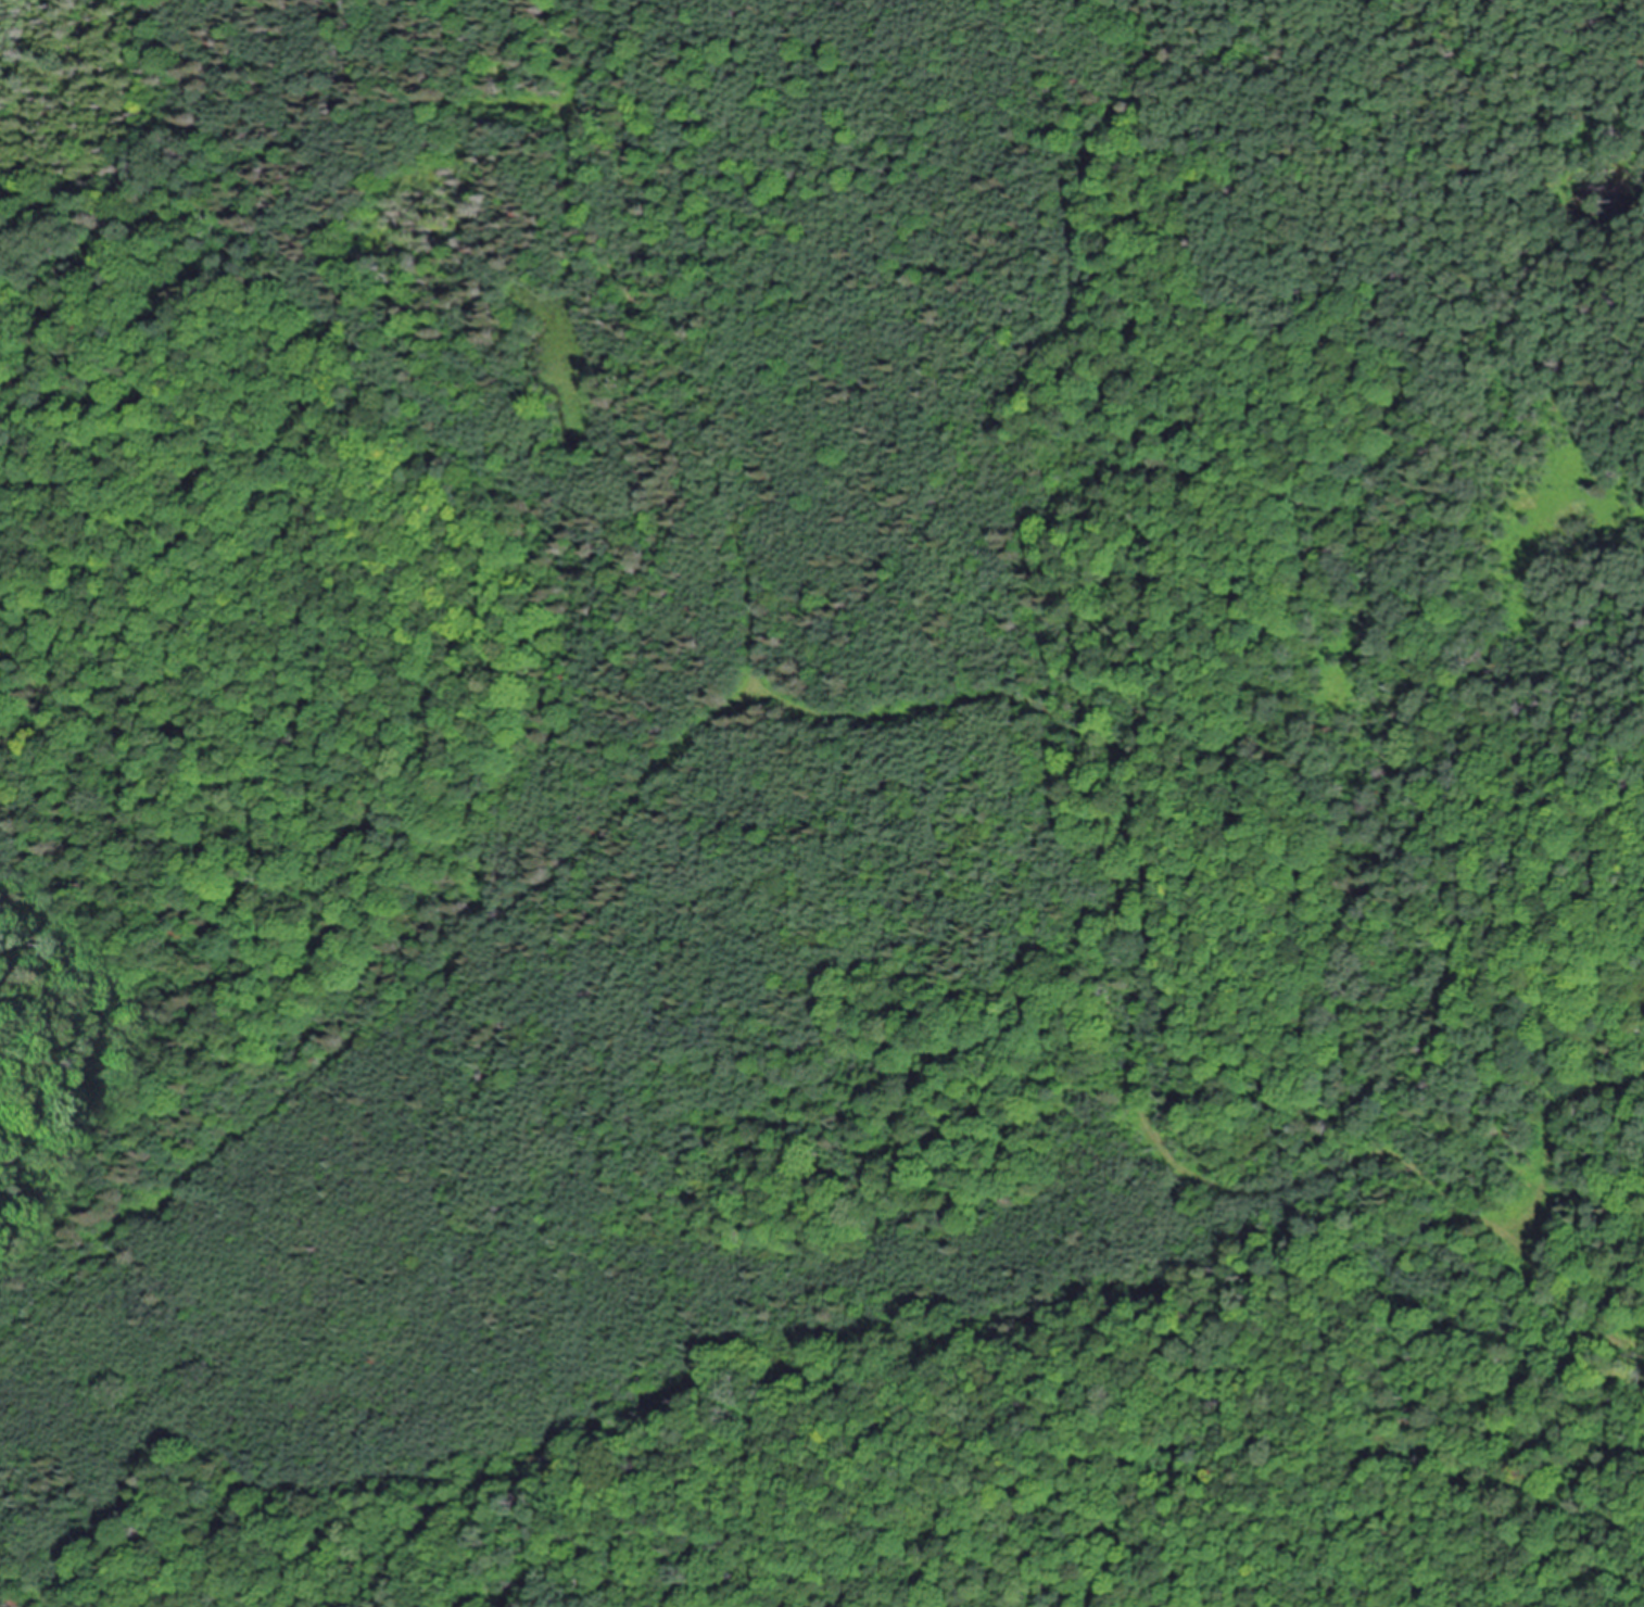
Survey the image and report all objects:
road: (1052, 714)
road: (383, 1022)
road: (1553, 1138)

